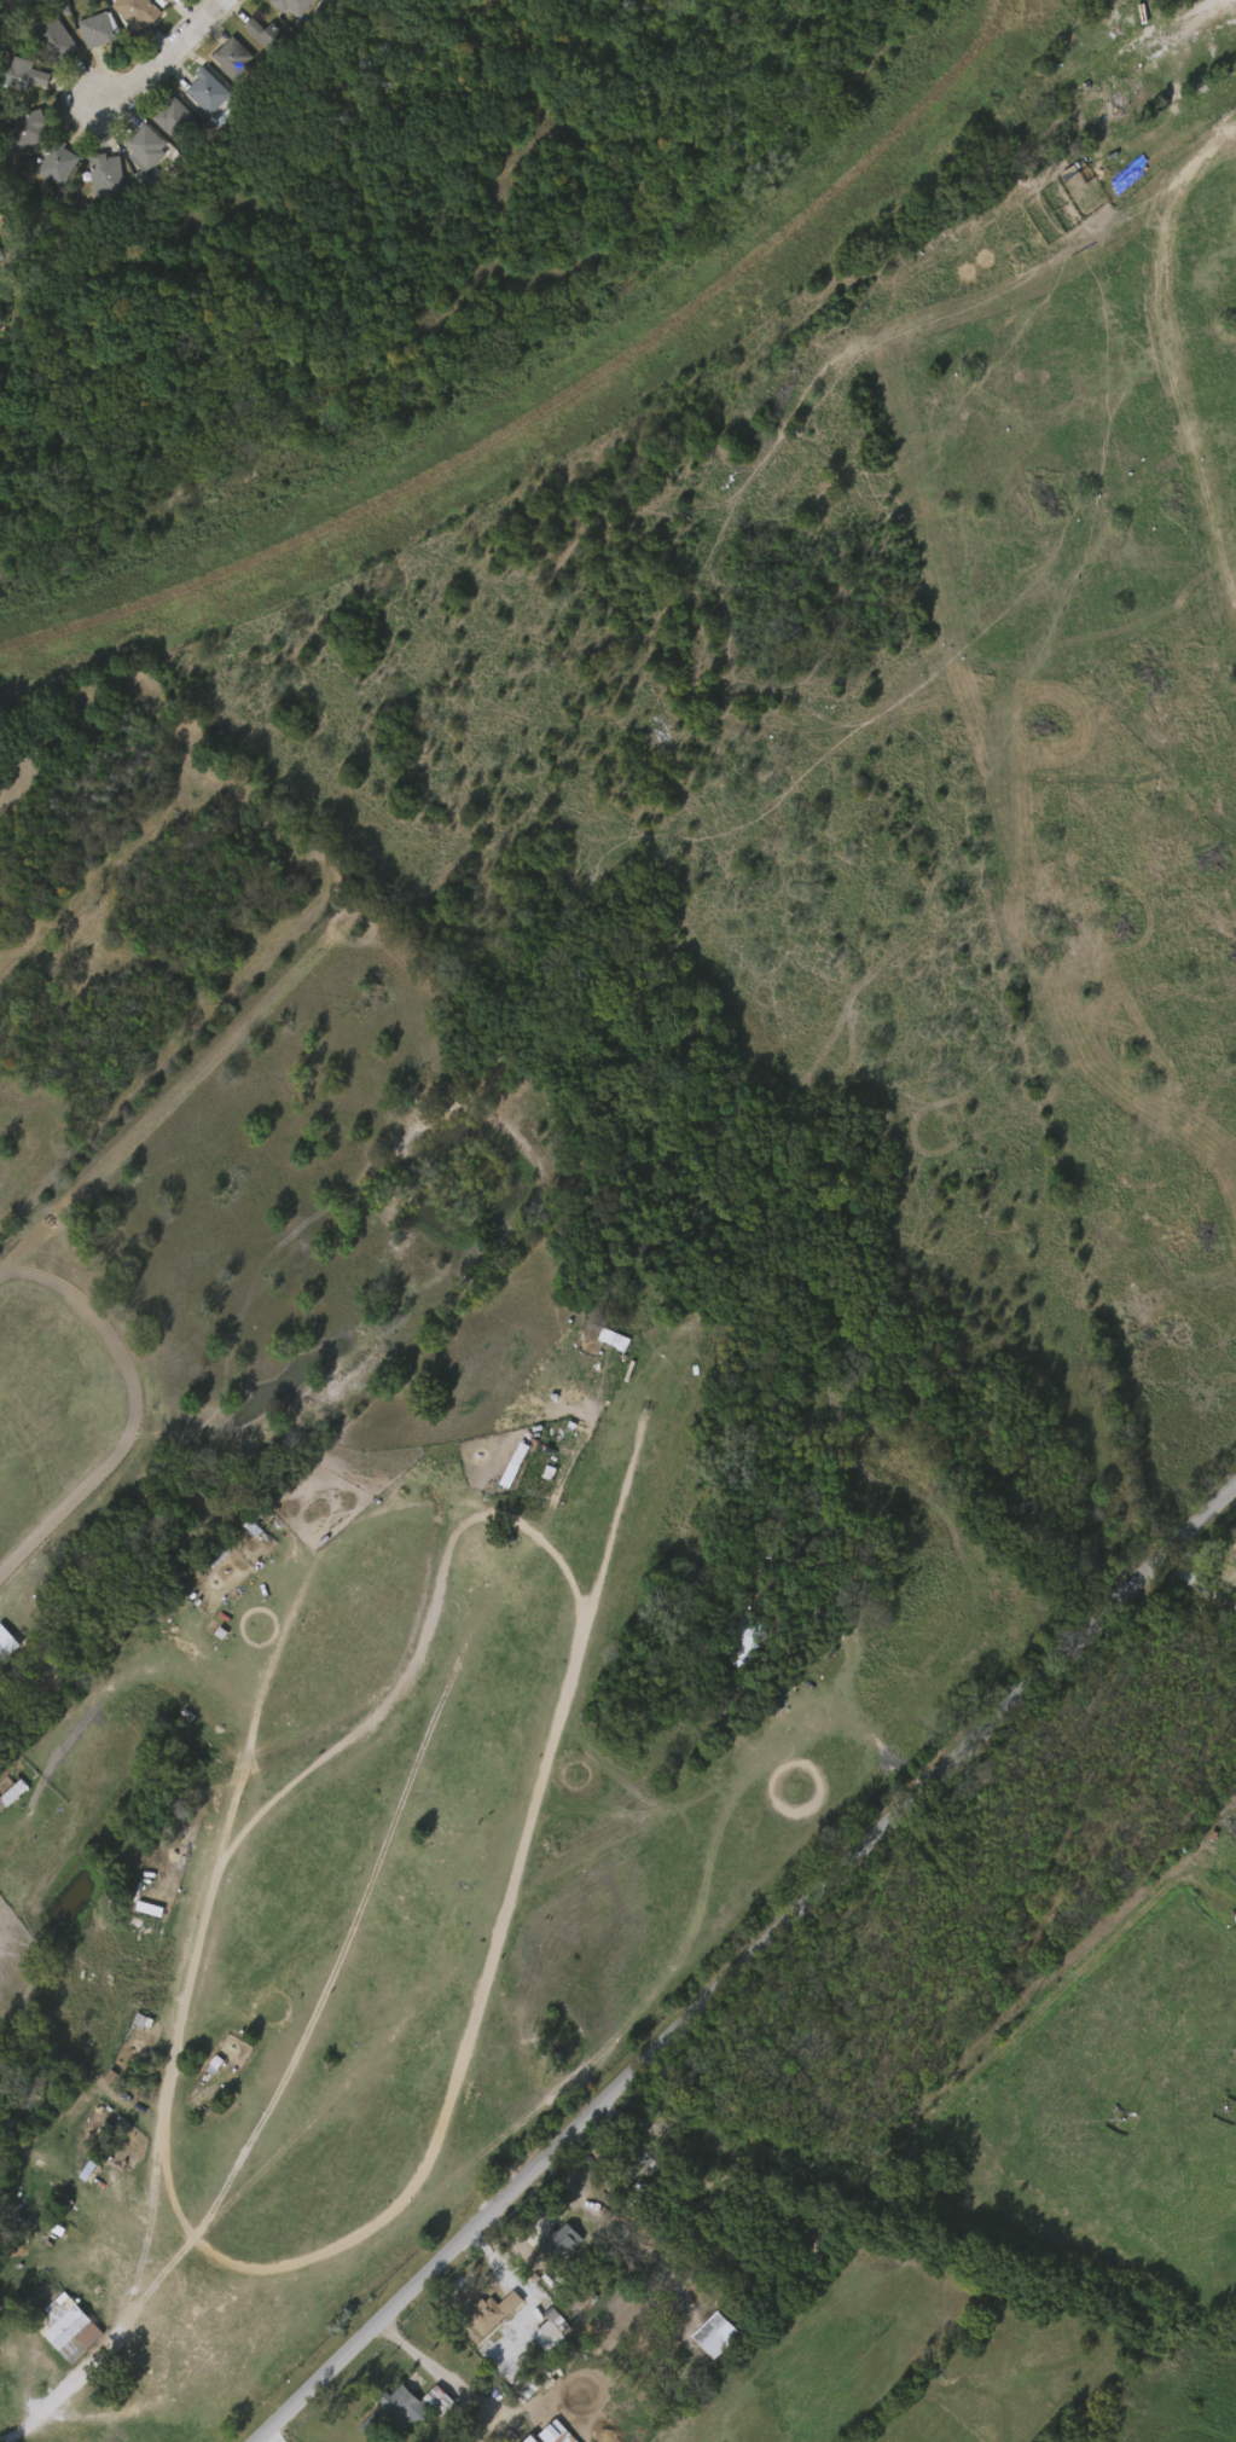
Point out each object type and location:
building: (166, 1)
building: (294, 5)
building: (137, 11)
building: (98, 29)
building: (271, 35)
building: (54, 37)
building: (255, 40)
road: (164, 57)
building: (236, 58)
building: (27, 74)
building: (207, 91)
building: (180, 121)
building: (164, 124)
building: (28, 128)
building: (149, 145)
building: (60, 162)
building: (47, 169)
building: (109, 173)
building: (95, 179)
building: (1, 256)
building: (1, 304)
road: (144, 1413)
road: (575, 1653)
building: (1231, 1924)
road: (745, 1964)
building: (637, 2162)
building: (561, 2244)
building: (581, 2290)
building: (493, 2309)
road: (123, 2325)
building: (69, 2327)
building: (703, 2338)
road: (443, 2379)
building: (399, 2409)
building: (535, 2438)
building: (555, 2438)
building: (518, 2441)

